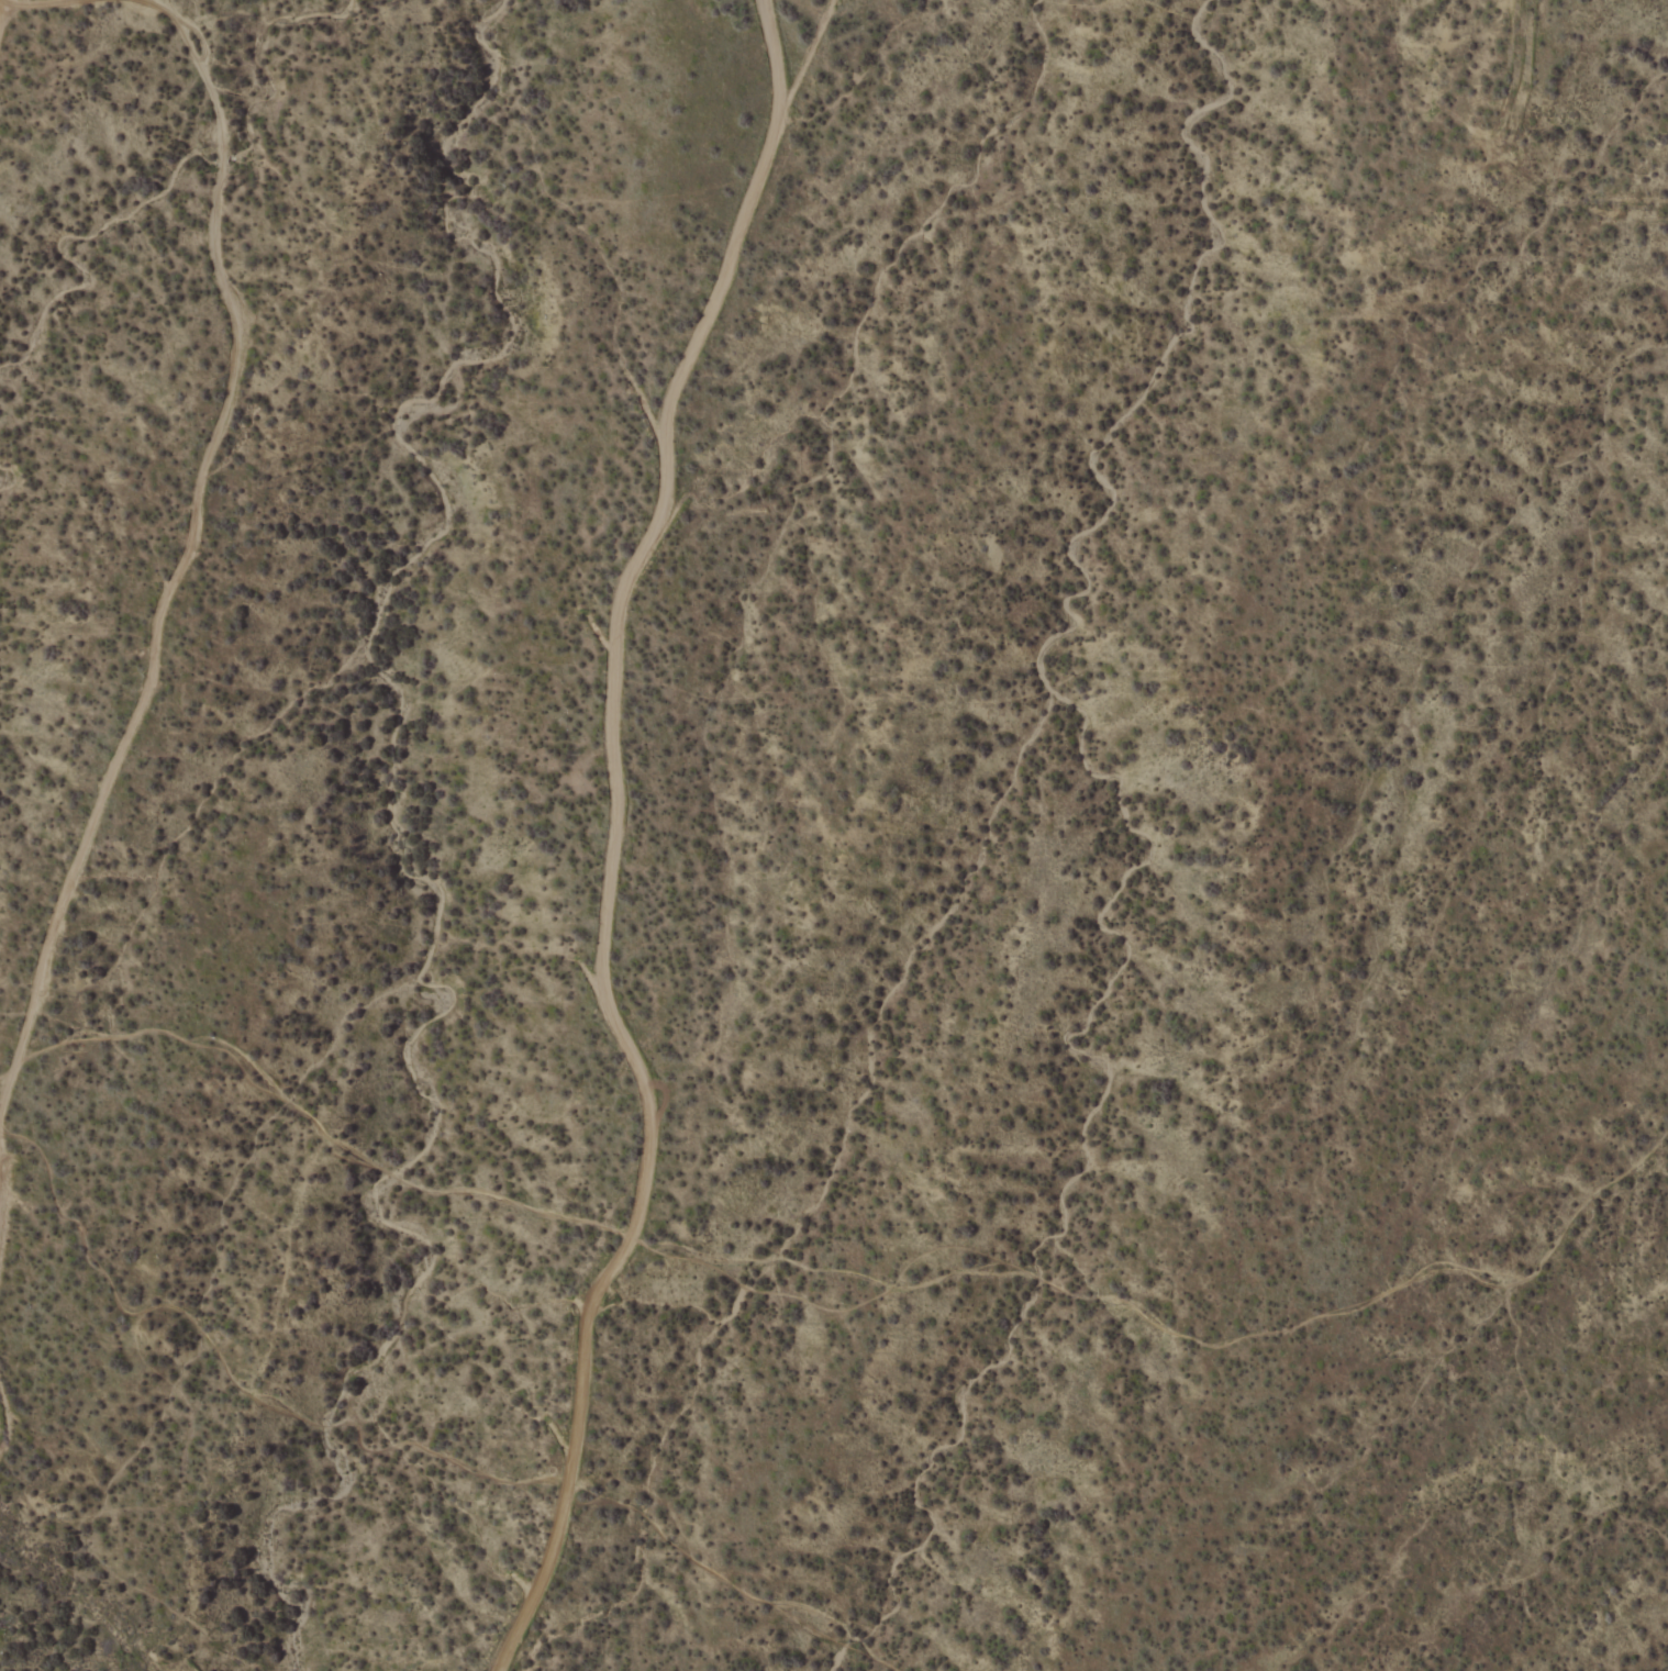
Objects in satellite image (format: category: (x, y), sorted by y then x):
road: (30, 4)
road: (1, 7)
road: (186, 564)
road: (612, 838)
road: (4, 1200)
road: (8, 1423)

